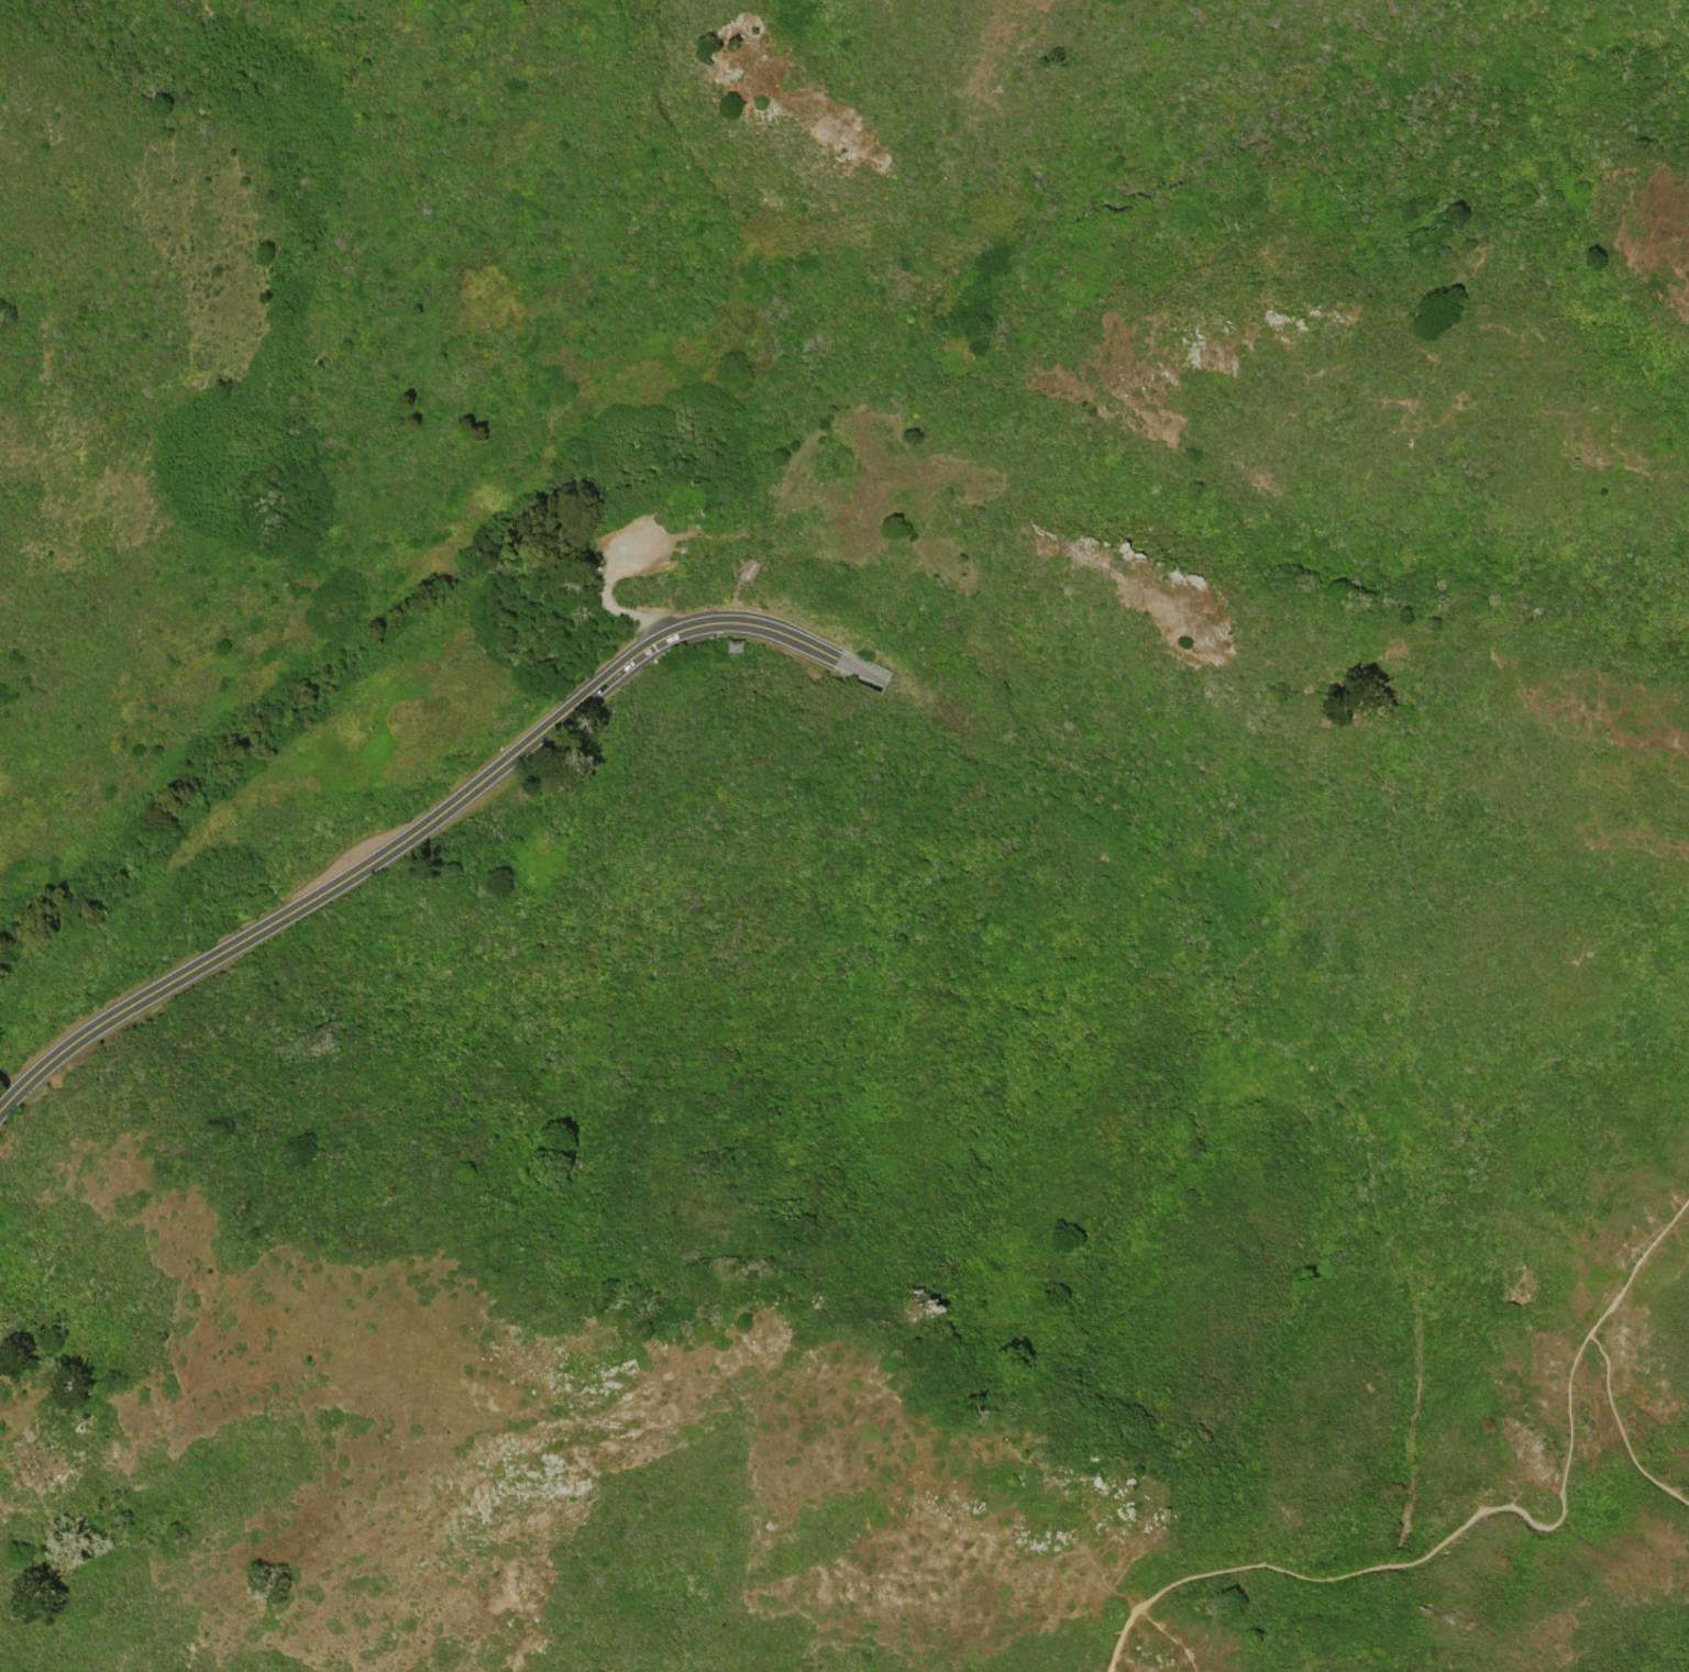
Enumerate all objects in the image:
traffic signals: (654, 640)
road: (437, 821)
road: (1634, 1263)
road: (1618, 1430)
road: (1413, 1559)

